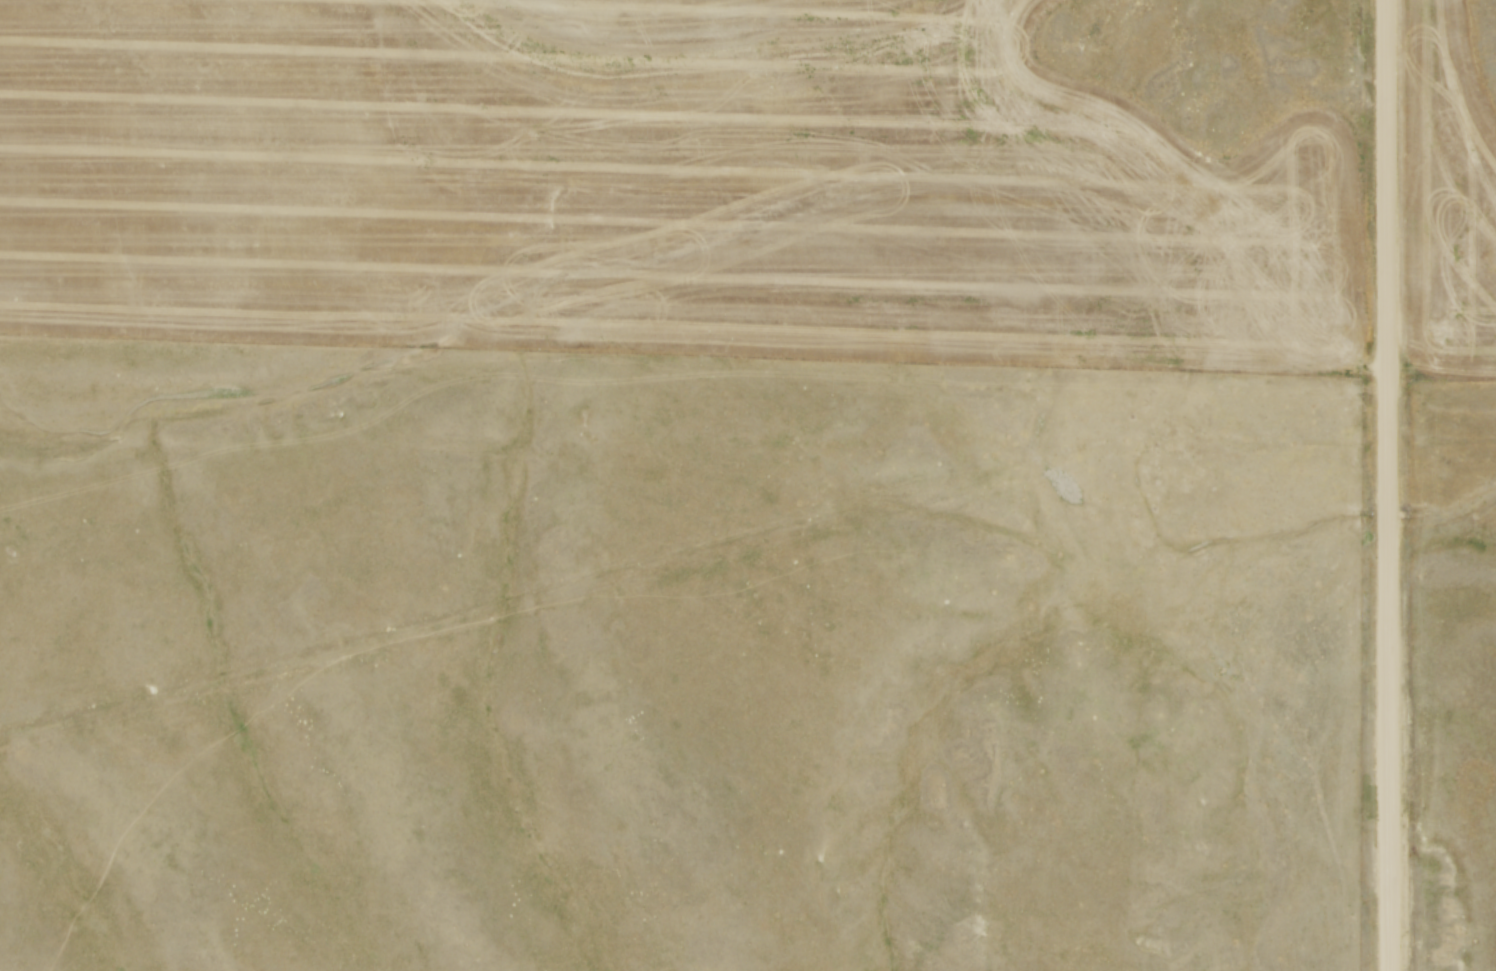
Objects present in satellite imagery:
crop: (648, 186)
crop: (1448, 195)
road: (1389, 485)

